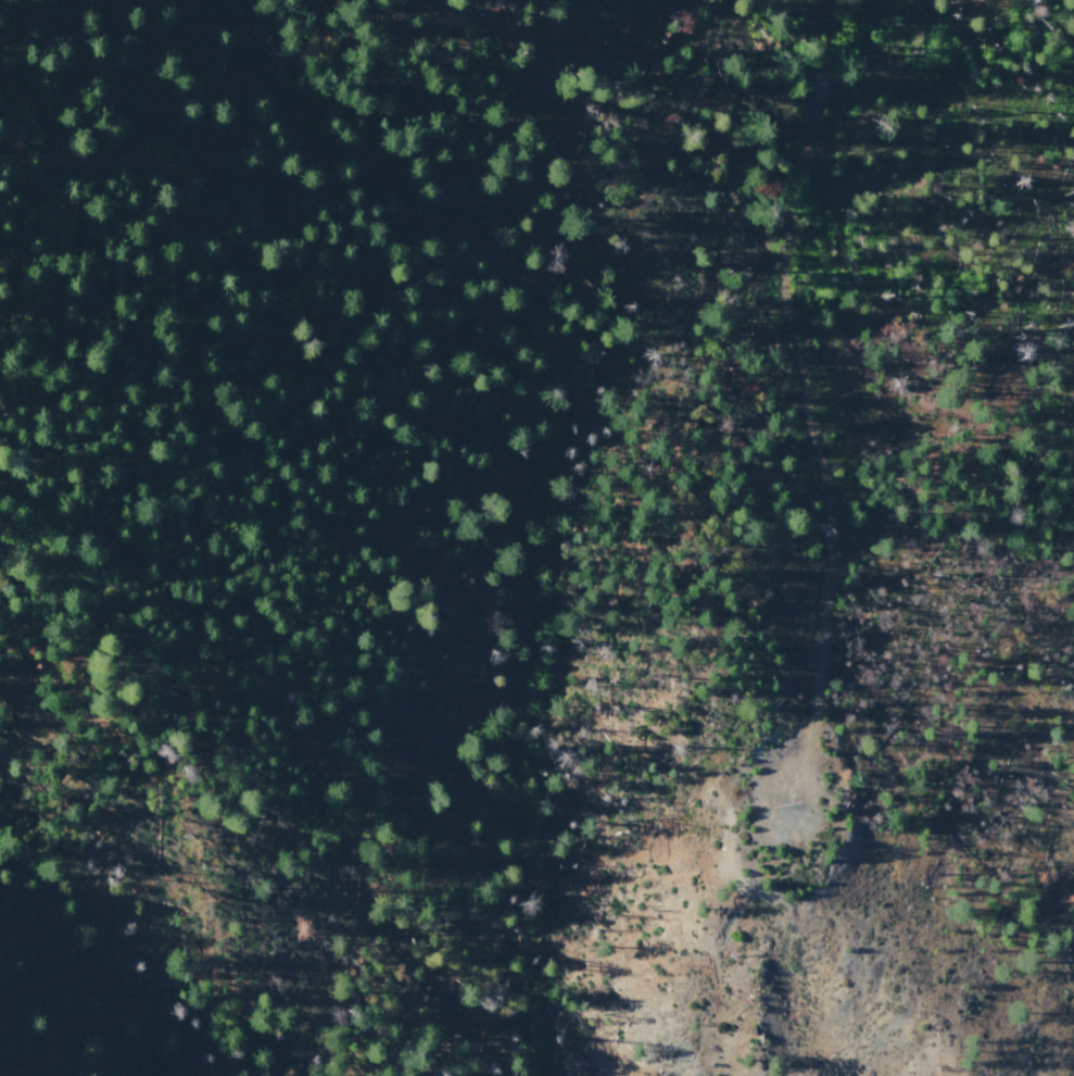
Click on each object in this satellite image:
road: (810, 347)

